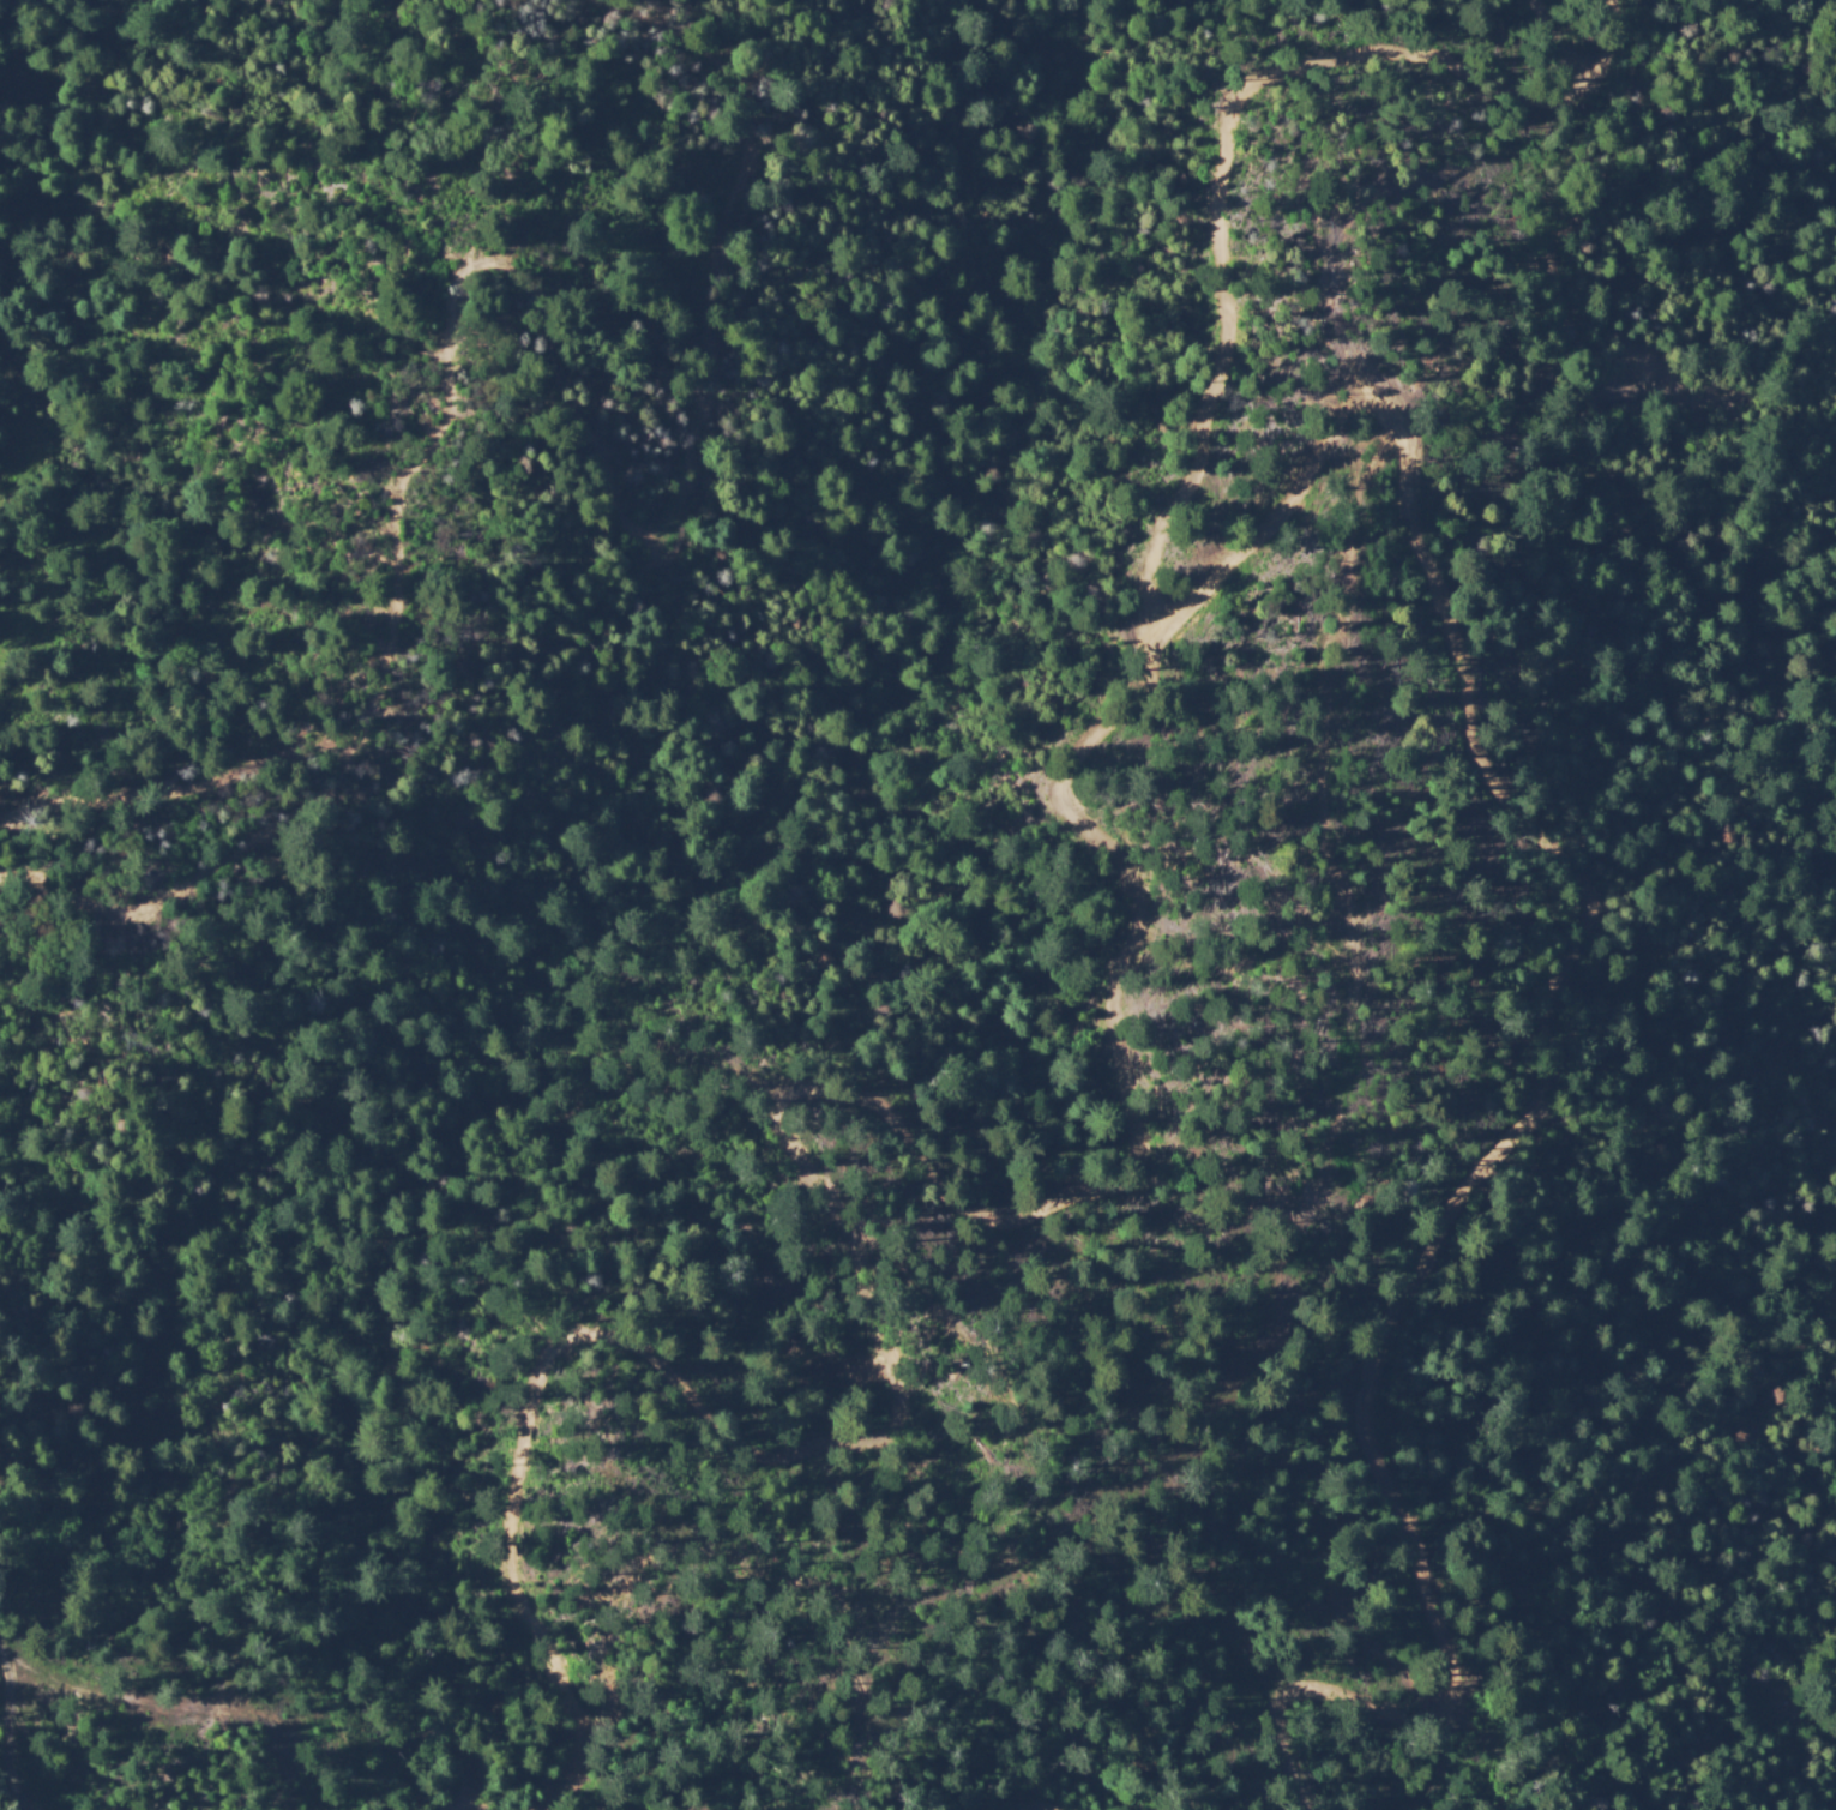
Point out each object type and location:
road: (1226, 561)
river: (745, 817)
building: (1575, 990)
road: (1420, 1564)
road: (1046, 1805)

